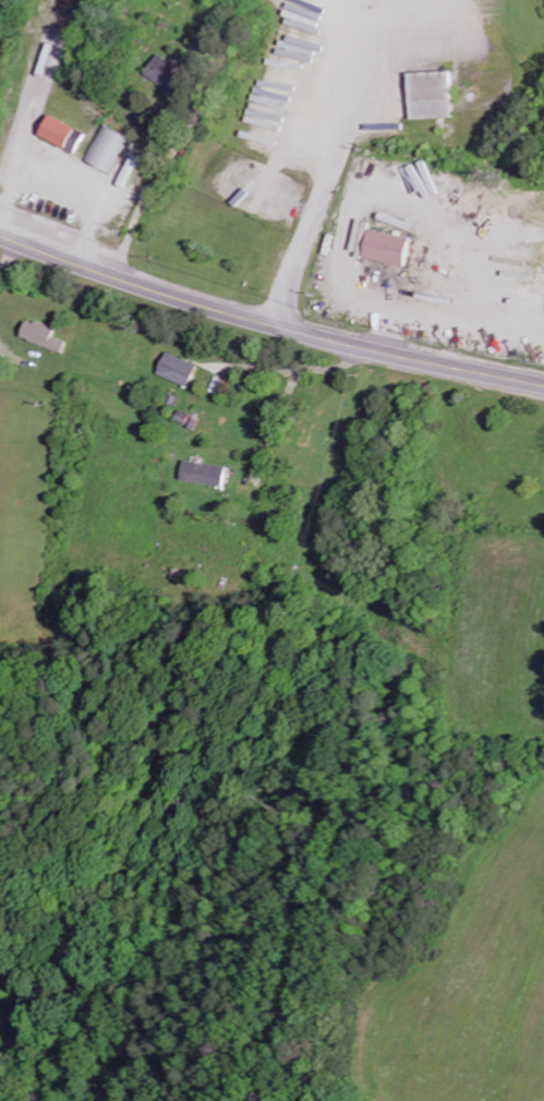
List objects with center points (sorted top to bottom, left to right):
building: (69, 0)
building: (159, 70)
building: (428, 95)
building: (61, 134)
building: (106, 149)
building: (408, 177)
building: (379, 244)
road: (267, 324)
building: (40, 335)
building: (176, 369)
building: (201, 474)
road: (24, 1043)

